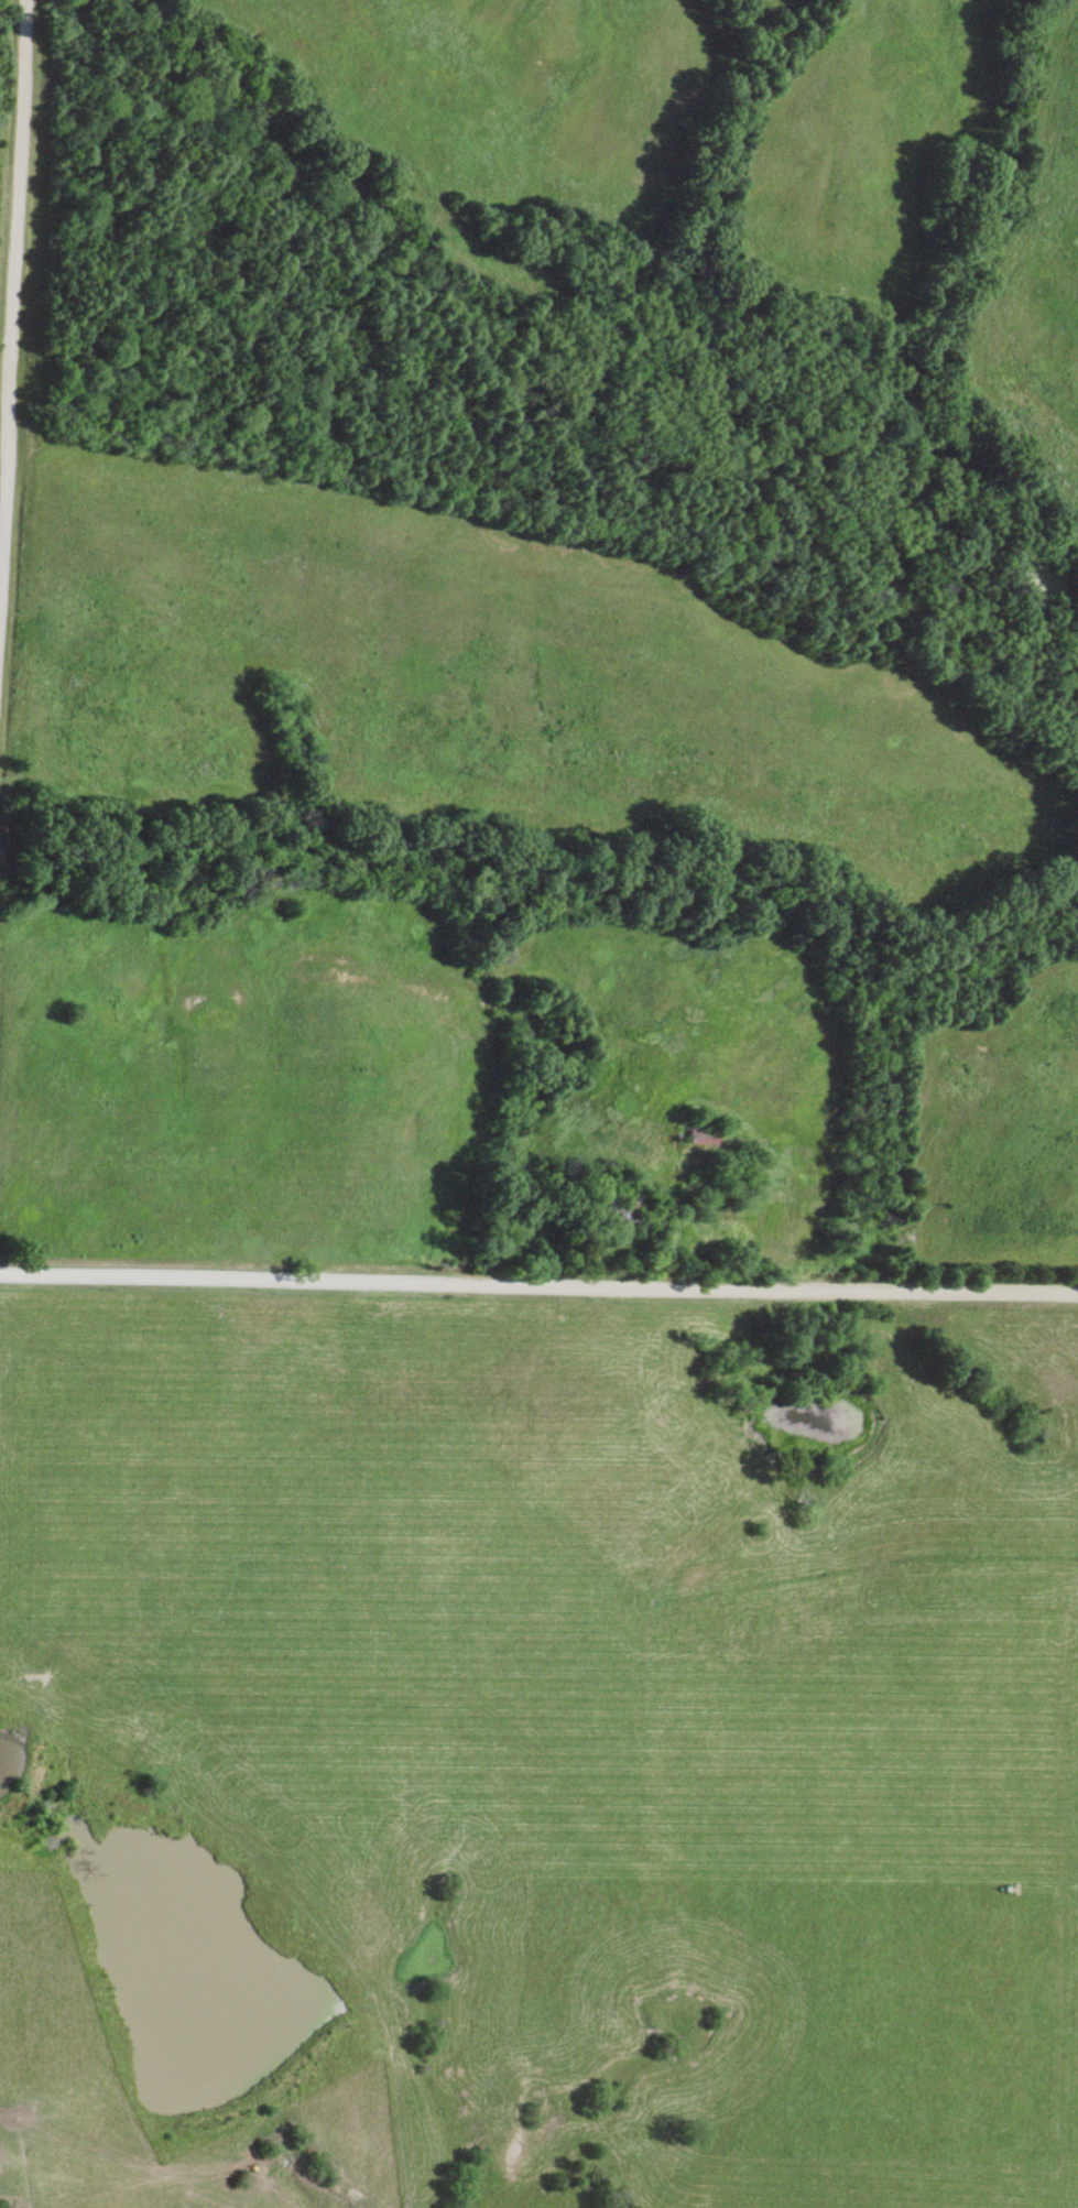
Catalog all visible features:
road: (11, 334)
road: (538, 1290)
road: (497, 1779)

